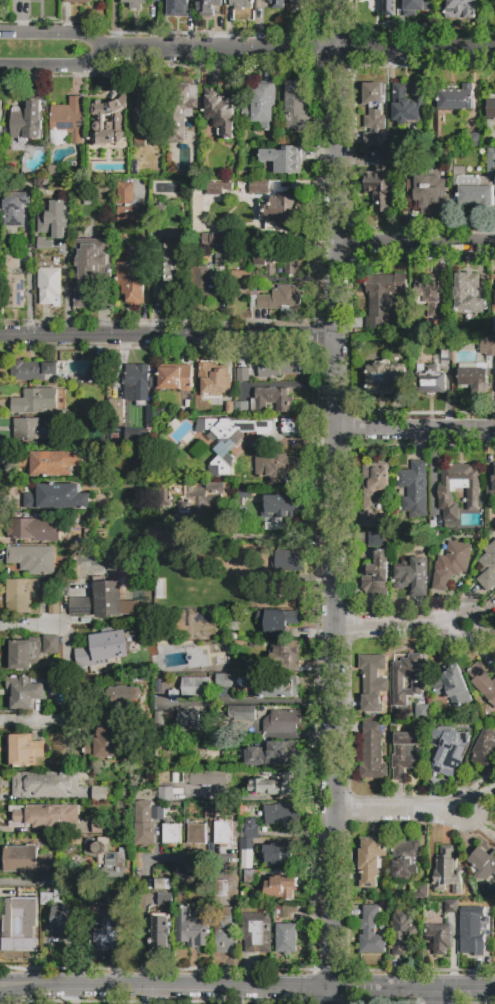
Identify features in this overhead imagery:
building: (22, 0)
building: (77, 1)
building: (135, 3)
building: (175, 3)
building: (276, 3)
building: (240, 4)
building: (295, 4)
road: (338, 5)
building: (207, 7)
building: (417, 7)
building: (389, 8)
building: (461, 8)
road: (115, 26)
road: (56, 35)
road: (338, 49)
road: (302, 52)
road: (57, 67)
building: (456, 97)
building: (409, 103)
building: (262, 105)
building: (298, 108)
building: (491, 108)
building: (181, 110)
building: (219, 111)
building: (374, 112)
building: (147, 113)
building: (1, 117)
building: (108, 118)
building: (27, 121)
building: (67, 121)
building: (392, 137)
building: (139, 141)
building: (473, 141)
building: (39, 151)
building: (283, 160)
building: (491, 163)
building: (134, 168)
building: (54, 172)
building: (2, 173)
building: (382, 184)
building: (259, 187)
building: (219, 188)
building: (473, 191)
building: (430, 192)
building: (125, 193)
building: (15, 208)
building: (279, 213)
building: (129, 214)
building: (54, 220)
building: (214, 238)
road: (415, 242)
building: (46, 246)
building: (12, 261)
building: (277, 262)
building: (88, 268)
road: (145, 270)
building: (166, 271)
building: (242, 277)
building: (493, 279)
building: (132, 280)
building: (203, 282)
building: (49, 284)
building: (15, 291)
road: (66, 291)
building: (467, 293)
building: (432, 297)
building: (383, 298)
building: (278, 299)
building: (105, 300)
building: (494, 300)
building: (493, 329)
road: (168, 338)
building: (487, 348)
building: (444, 351)
building: (277, 366)
building: (32, 370)
building: (97, 371)
building: (243, 375)
building: (175, 377)
building: (385, 377)
building: (473, 377)
building: (429, 379)
building: (138, 381)
building: (213, 383)
building: (272, 400)
building: (34, 401)
building: (241, 408)
building: (118, 410)
building: (101, 411)
building: (61, 425)
building: (290, 425)
road: (415, 429)
building: (28, 430)
building: (135, 434)
building: (230, 439)
building: (51, 462)
building: (273, 465)
building: (494, 481)
building: (459, 488)
building: (414, 489)
building: (373, 490)
building: (162, 495)
building: (57, 497)
building: (201, 500)
building: (279, 506)
road: (335, 515)
building: (490, 517)
building: (35, 530)
building: (92, 538)
building: (162, 541)
building: (33, 559)
building: (288, 561)
building: (451, 564)
building: (377, 567)
building: (487, 568)
building: (246, 572)
building: (409, 577)
building: (20, 595)
building: (99, 601)
building: (54, 606)
building: (278, 622)
road: (31, 624)
road: (399, 627)
building: (50, 644)
building: (102, 649)
building: (23, 653)
building: (282, 661)
building: (55, 663)
building: (406, 678)
building: (225, 681)
building: (373, 681)
building: (482, 681)
building: (192, 687)
building: (453, 687)
building: (275, 688)
building: (160, 689)
building: (24, 692)
building: (117, 698)
road: (247, 701)
building: (422, 713)
building: (158, 718)
building: (273, 718)
road: (34, 720)
building: (190, 722)
building: (105, 745)
building: (449, 749)
building: (485, 749)
building: (23, 750)
building: (373, 753)
building: (405, 754)
building: (273, 755)
building: (210, 777)
building: (45, 783)
building: (275, 785)
building: (99, 794)
building: (165, 794)
building: (178, 795)
road: (269, 797)
building: (123, 804)
road: (398, 810)
building: (158, 813)
building: (210, 813)
building: (282, 815)
building: (43, 816)
building: (144, 823)
building: (101, 826)
building: (223, 832)
building: (249, 833)
building: (171, 834)
building: (196, 834)
building: (280, 856)
building: (106, 858)
building: (406, 859)
building: (27, 860)
building: (371, 861)
building: (483, 863)
building: (446, 871)
building: (250, 877)
building: (184, 881)
building: (163, 884)
building: (279, 886)
building: (221, 888)
building: (422, 892)
building: (165, 900)
road: (143, 902)
building: (451, 906)
building: (21, 916)
building: (63, 916)
building: (108, 928)
building: (193, 929)
building: (472, 929)
building: (225, 931)
building: (371, 931)
building: (402, 932)
building: (160, 933)
building: (256, 933)
building: (439, 936)
building: (286, 939)
road: (329, 965)
road: (247, 987)
road: (327, 996)
road: (435, 996)

